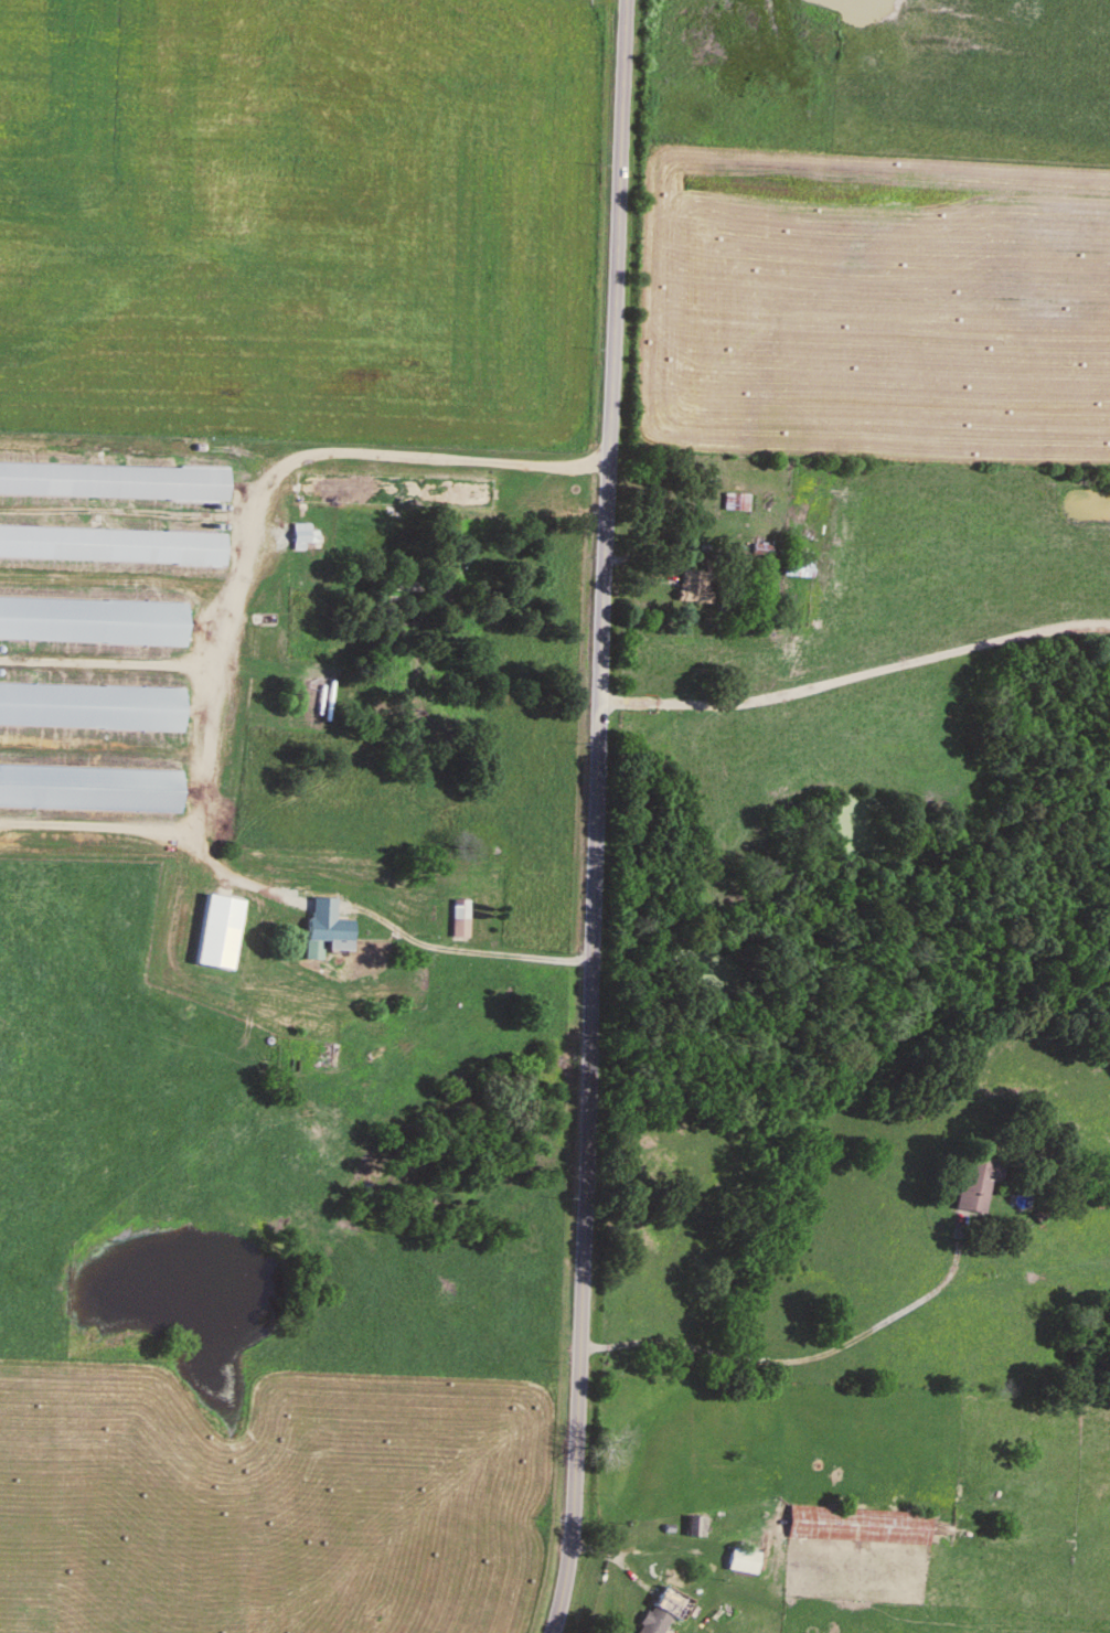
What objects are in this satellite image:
road: (337, 455)
building: (113, 483)
building: (395, 493)
building: (737, 503)
building: (113, 546)
building: (764, 552)
building: (799, 570)
building: (696, 588)
building: (407, 595)
building: (93, 622)
road: (113, 664)
building: (92, 707)
road: (595, 816)
road: (178, 831)
building: (460, 920)
building: (323, 927)
building: (220, 932)
road: (463, 950)
building: (320, 1053)
building: (975, 1186)
building: (861, 1527)
building: (744, 1562)
building: (654, 1621)

